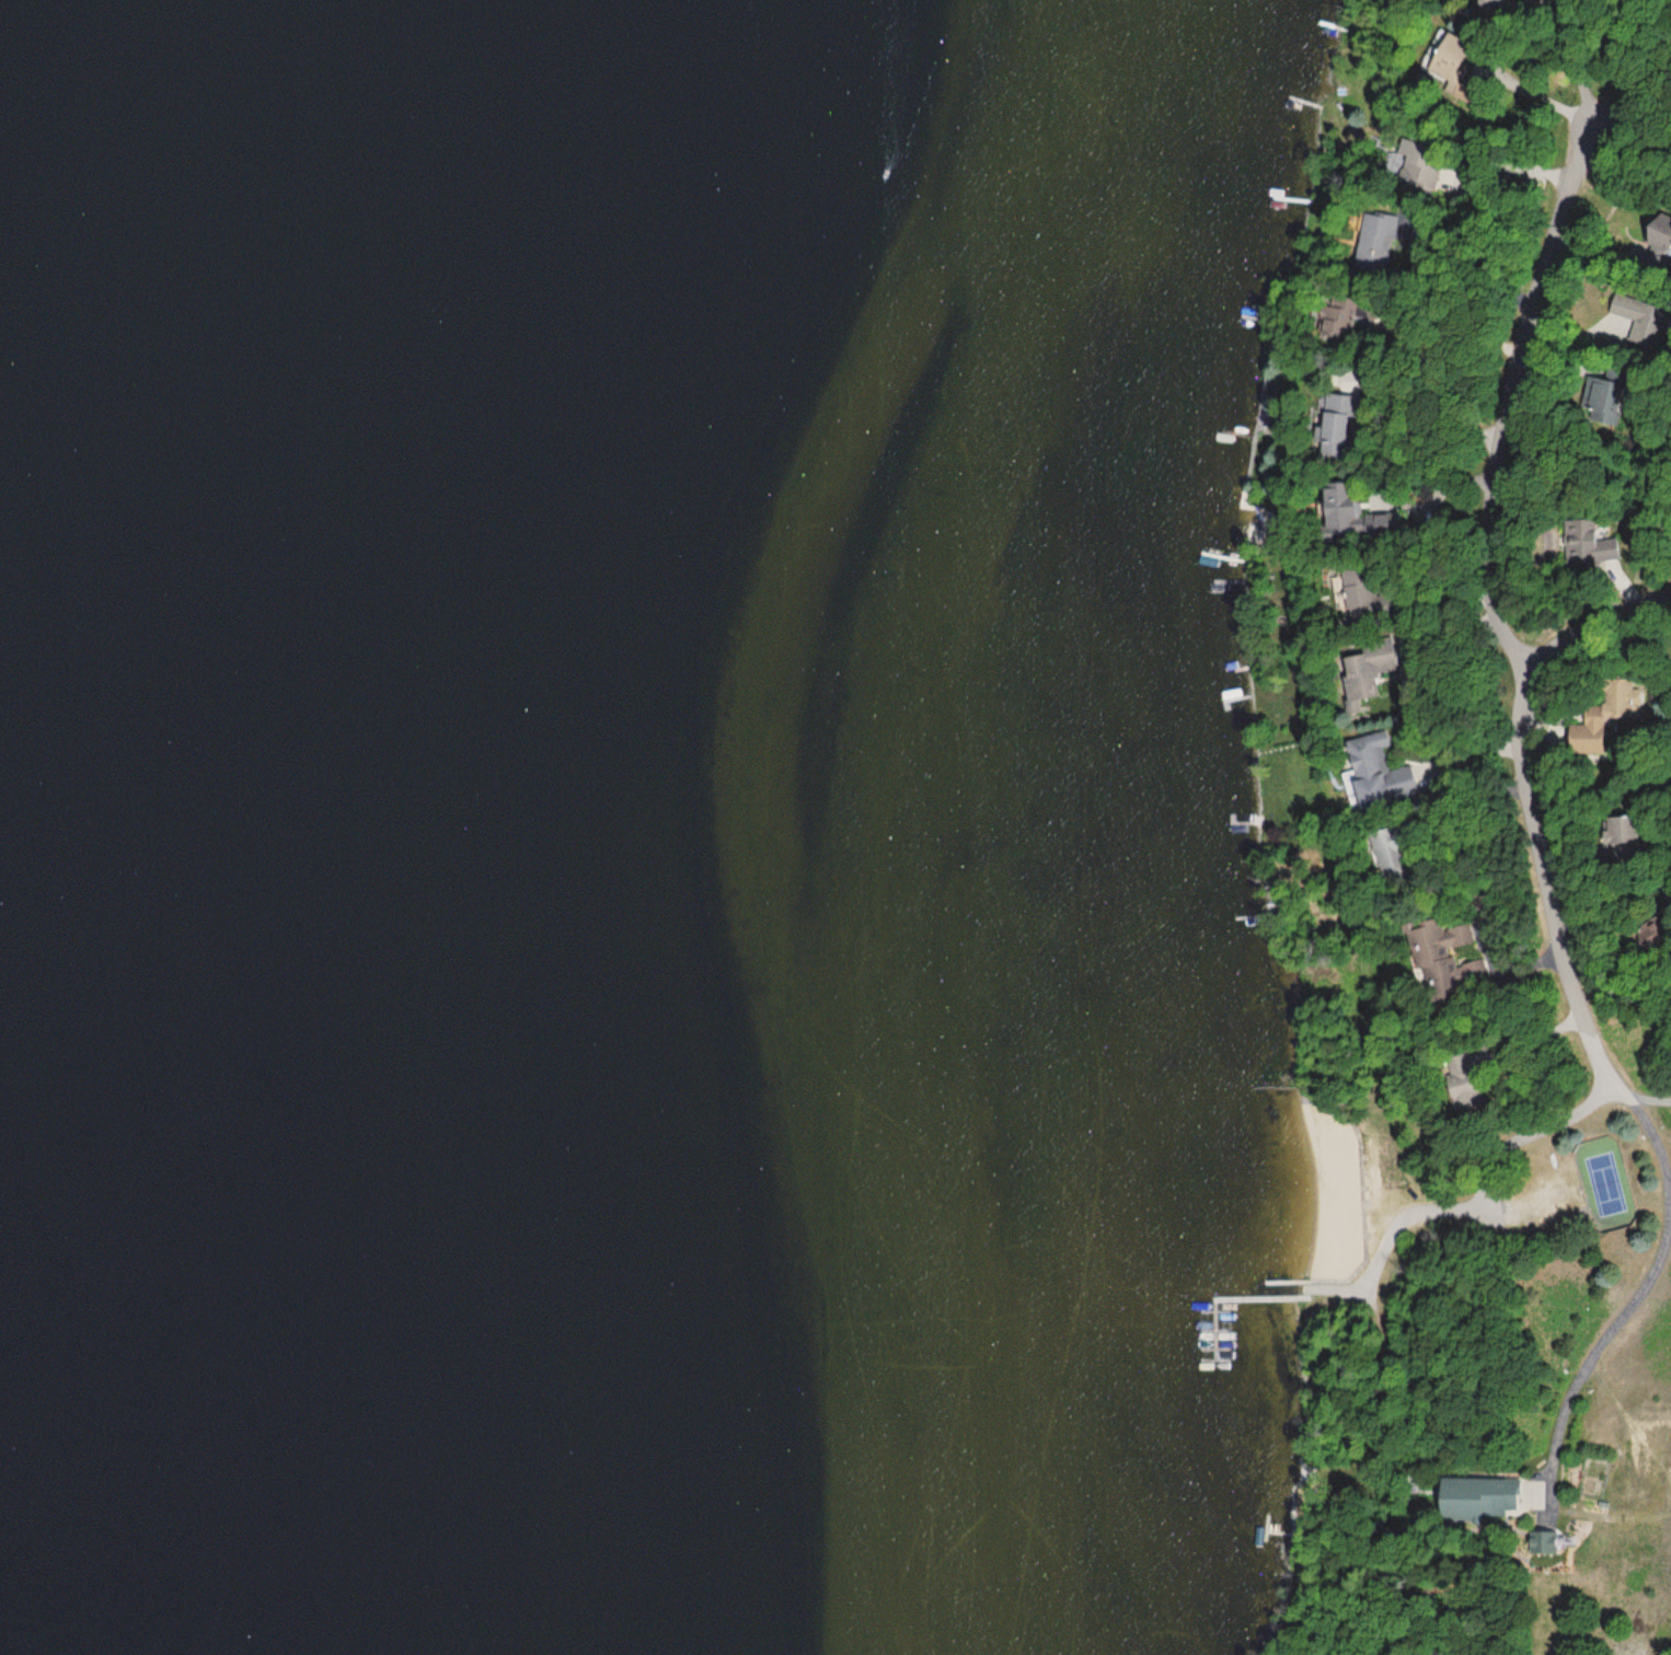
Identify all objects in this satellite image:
building: (1454, 49)
building: (1635, 308)
road: (1535, 384)
building: (1604, 389)
building: (1334, 428)
building: (1339, 512)
building: (1588, 543)
building: (1362, 674)
building: (1605, 718)
road: (1534, 795)
building: (1614, 836)
building: (1438, 954)
building: (1460, 1063)
road: (1589, 1101)
park: (1606, 1183)
road: (1415, 1199)
building: (1478, 1494)
building: (1543, 1542)

